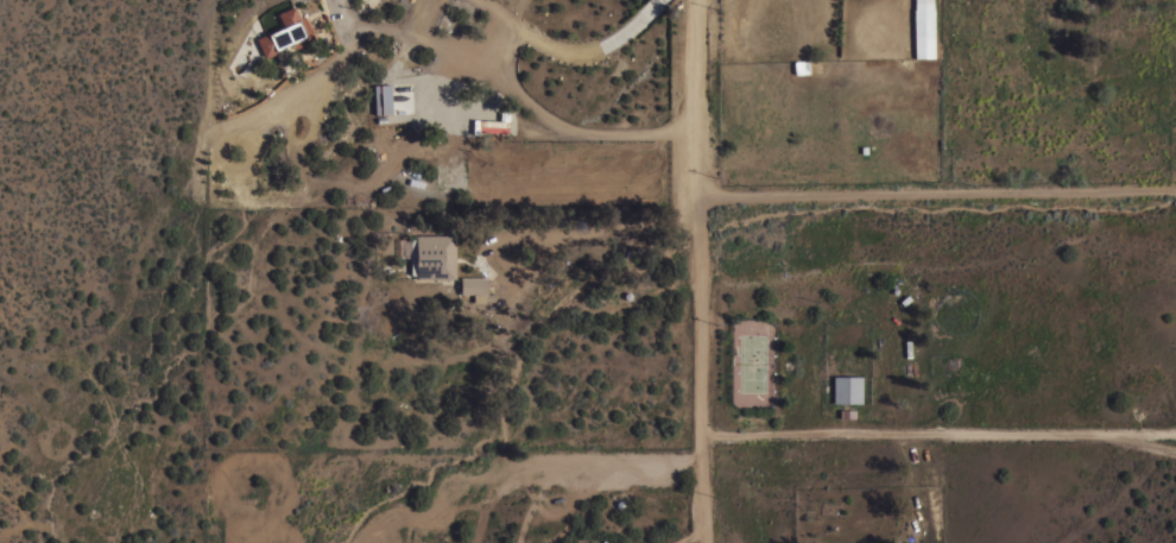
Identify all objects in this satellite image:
road: (655, 6)
building: (923, 29)
building: (285, 32)
road: (511, 39)
building: (381, 99)
road: (694, 100)
road: (571, 132)
road: (935, 196)
road: (599, 228)
building: (432, 257)
building: (475, 288)
road: (701, 371)
building: (847, 389)
road: (909, 429)
road: (1144, 429)
road: (1144, 437)

